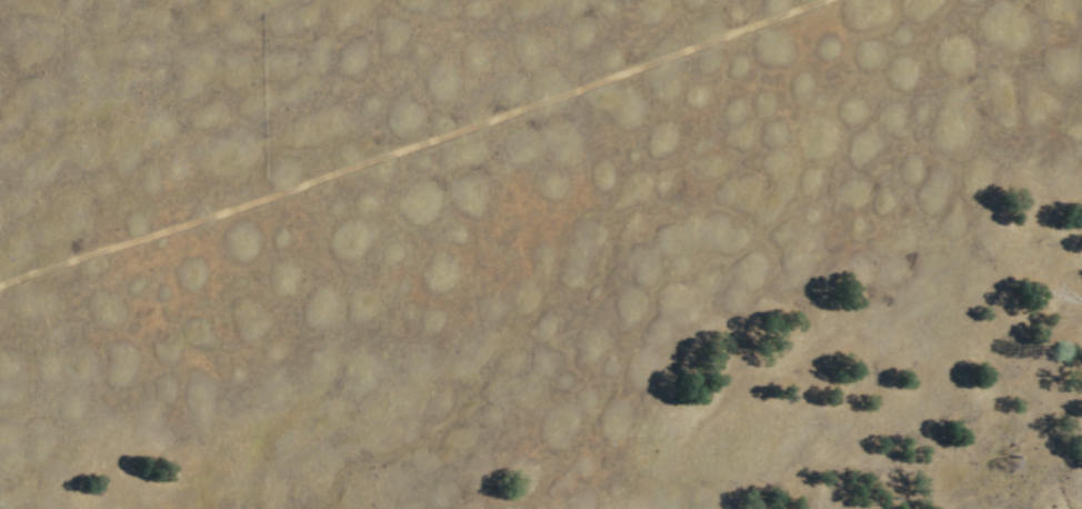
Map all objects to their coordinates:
road: (409, 143)

